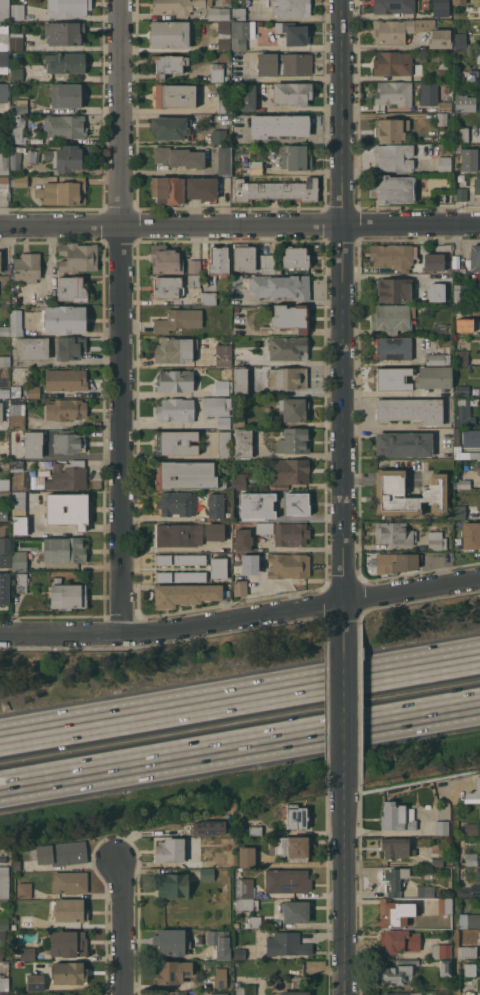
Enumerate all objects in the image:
building: (459, 2)
building: (177, 6)
building: (393, 6)
building: (291, 7)
building: (68, 8)
building: (4, 10)
building: (17, 11)
building: (218, 13)
building: (238, 13)
building: (443, 13)
building: (392, 31)
building: (293, 32)
building: (65, 33)
building: (434, 33)
building: (169, 34)
building: (240, 34)
building: (224, 35)
building: (4, 36)
building: (459, 41)
building: (16, 42)
building: (478, 57)
building: (17, 58)
building: (3, 61)
building: (67, 63)
building: (392, 63)
building: (168, 64)
building: (283, 64)
building: (217, 72)
building: (443, 73)
building: (16, 74)
building: (472, 75)
road: (286, 78)
building: (292, 93)
building: (393, 93)
building: (428, 94)
building: (67, 95)
building: (174, 96)
building: (247, 97)
building: (4, 98)
building: (224, 101)
building: (464, 102)
building: (19, 106)
building: (444, 106)
road: (304, 108)
road: (171, 110)
road: (344, 112)
building: (3, 117)
building: (441, 118)
building: (278, 125)
building: (65, 126)
building: (169, 128)
building: (16, 129)
building: (390, 129)
building: (460, 134)
building: (218, 136)
road: (283, 140)
building: (64, 157)
building: (178, 157)
building: (294, 157)
building: (393, 157)
building: (467, 157)
building: (13, 160)
building: (224, 161)
building: (4, 163)
building: (444, 164)
building: (252, 167)
building: (19, 181)
building: (476, 185)
building: (4, 188)
building: (201, 188)
building: (168, 189)
building: (392, 189)
building: (275, 190)
building: (63, 192)
building: (461, 194)
road: (240, 225)
building: (392, 255)
building: (243, 256)
building: (77, 257)
building: (296, 257)
building: (475, 258)
building: (165, 259)
building: (218, 261)
building: (434, 261)
building: (268, 263)
building: (194, 265)
building: (27, 267)
building: (194, 280)
building: (237, 281)
building: (280, 286)
building: (71, 289)
building: (166, 289)
building: (394, 289)
building: (436, 292)
building: (459, 293)
building: (209, 298)
building: (290, 317)
building: (392, 317)
road: (122, 318)
building: (64, 319)
building: (178, 320)
building: (13, 324)
building: (463, 325)
building: (441, 328)
building: (70, 347)
building: (287, 347)
building: (33, 348)
building: (392, 348)
building: (175, 349)
building: (223, 355)
building: (462, 357)
building: (437, 358)
building: (5, 361)
building: (433, 377)
building: (288, 378)
building: (65, 379)
building: (393, 379)
building: (175, 380)
building: (240, 381)
building: (221, 387)
building: (4, 390)
building: (462, 390)
building: (15, 391)
building: (33, 391)
road: (393, 393)
building: (3, 406)
building: (217, 406)
building: (65, 409)
building: (176, 409)
building: (293, 409)
building: (410, 410)
building: (463, 412)
building: (18, 414)
building: (238, 421)
building: (223, 422)
road: (343, 423)
road: (397, 430)
building: (456, 436)
building: (470, 438)
building: (293, 441)
building: (68, 442)
building: (176, 442)
building: (32, 443)
building: (242, 443)
building: (403, 444)
building: (224, 445)
building: (4, 464)
building: (17, 465)
building: (478, 467)
building: (289, 471)
building: (186, 475)
building: (63, 476)
building: (40, 477)
building: (239, 481)
building: (463, 483)
building: (4, 484)
building: (389, 491)
building: (177, 503)
building: (290, 503)
building: (217, 505)
building: (67, 509)
building: (459, 512)
building: (3, 513)
building: (238, 513)
building: (19, 514)
building: (264, 527)
building: (214, 531)
building: (290, 533)
building: (394, 533)
building: (178, 534)
building: (470, 535)
building: (243, 539)
building: (436, 540)
building: (5, 545)
building: (64, 549)
building: (163, 559)
building: (190, 559)
building: (5, 560)
building: (19, 561)
building: (396, 562)
building: (249, 564)
building: (288, 565)
building: (218, 568)
building: (163, 576)
building: (190, 576)
building: (240, 579)
building: (21, 583)
building: (4, 588)
building: (185, 594)
building: (67, 595)
road: (240, 617)
road: (240, 701)
road: (343, 703)
road: (240, 750)
road: (411, 781)
building: (473, 792)
building: (397, 817)
building: (296, 818)
building: (207, 827)
building: (441, 827)
building: (471, 829)
building: (255, 830)
building: (245, 831)
building: (289, 847)
building: (396, 847)
building: (171, 850)
building: (59, 853)
building: (247, 857)
building: (470, 858)
building: (3, 859)
building: (437, 862)
building: (16, 865)
building: (478, 872)
building: (206, 875)
building: (287, 880)
building: (394, 880)
building: (4, 882)
building: (69, 882)
building: (172, 885)
building: (23, 888)
road: (344, 889)
building: (425, 891)
building: (469, 891)
building: (245, 893)
building: (445, 906)
building: (70, 910)
building: (295, 910)
building: (394, 912)
building: (469, 920)
building: (26, 921)
building: (255, 921)
building: (4, 923)
road: (125, 926)
building: (479, 935)
building: (214, 937)
building: (198, 939)
building: (398, 942)
building: (68, 943)
building: (169, 943)
building: (285, 944)
building: (441, 950)
building: (467, 951)
building: (26, 953)
building: (223, 953)
building: (239, 953)
building: (1, 954)
building: (4, 962)
building: (407, 962)
building: (445, 967)
building: (469, 969)
building: (172, 971)
building: (68, 973)
building: (395, 974)
building: (220, 977)
building: (35, 982)
building: (4, 984)
building: (241, 990)
building: (5, 993)
building: (177, 993)
building: (219, 993)
building: (294, 993)
building: (400, 993)
building: (468, 993)
building: (478, 993)
building: (23, 994)
building: (60, 994)
building: (85, 994)

